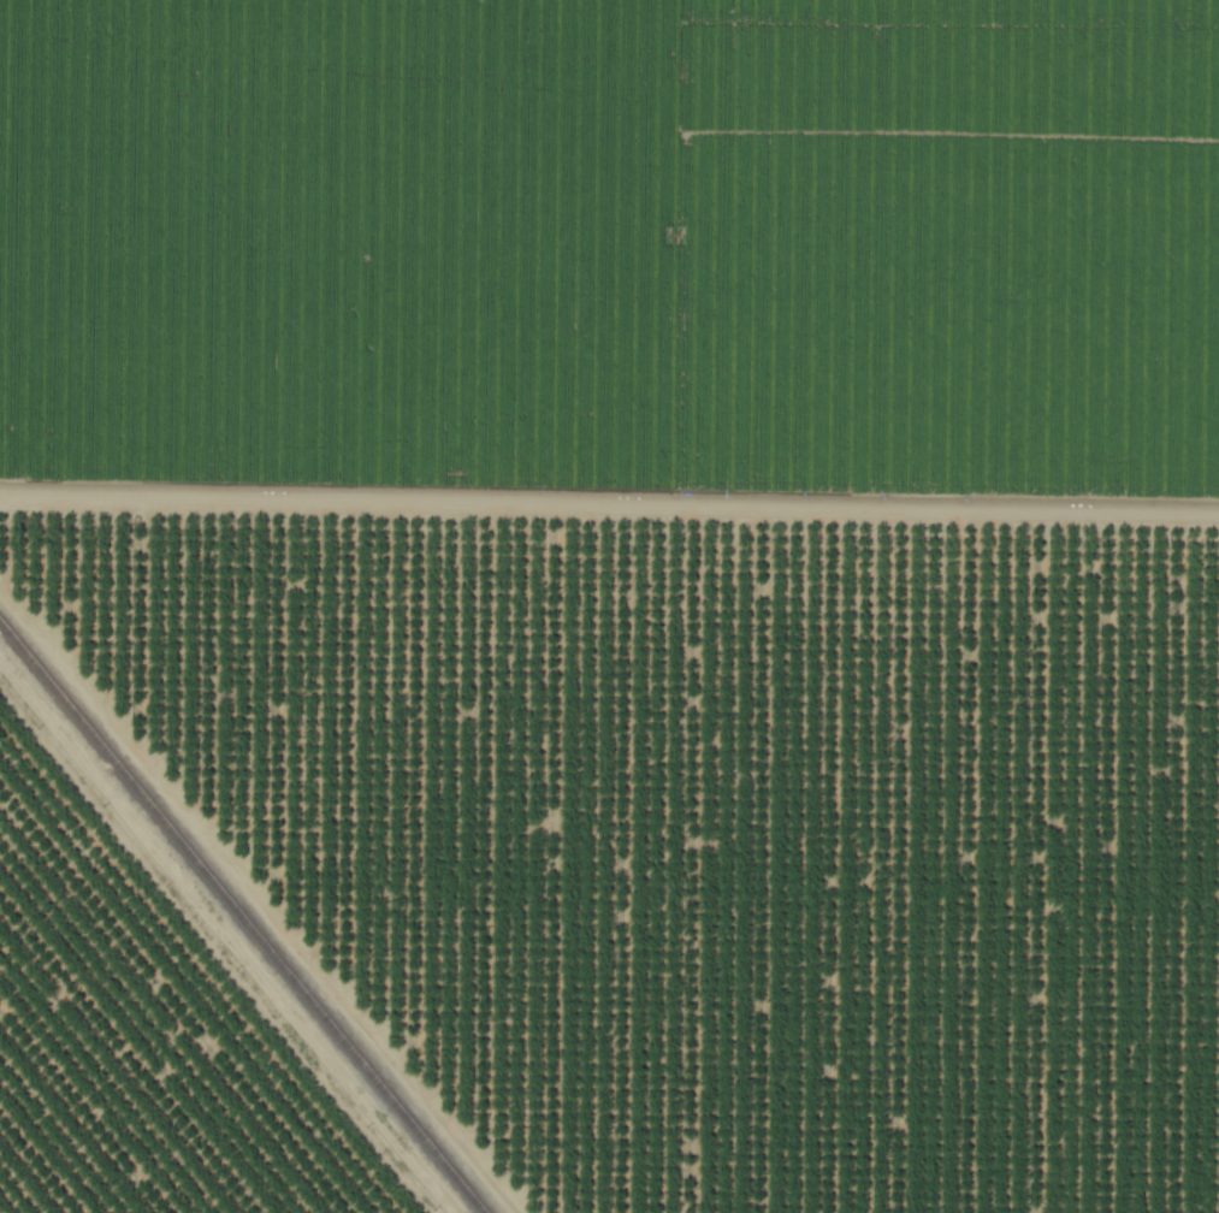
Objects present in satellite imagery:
railway: (242, 917)

